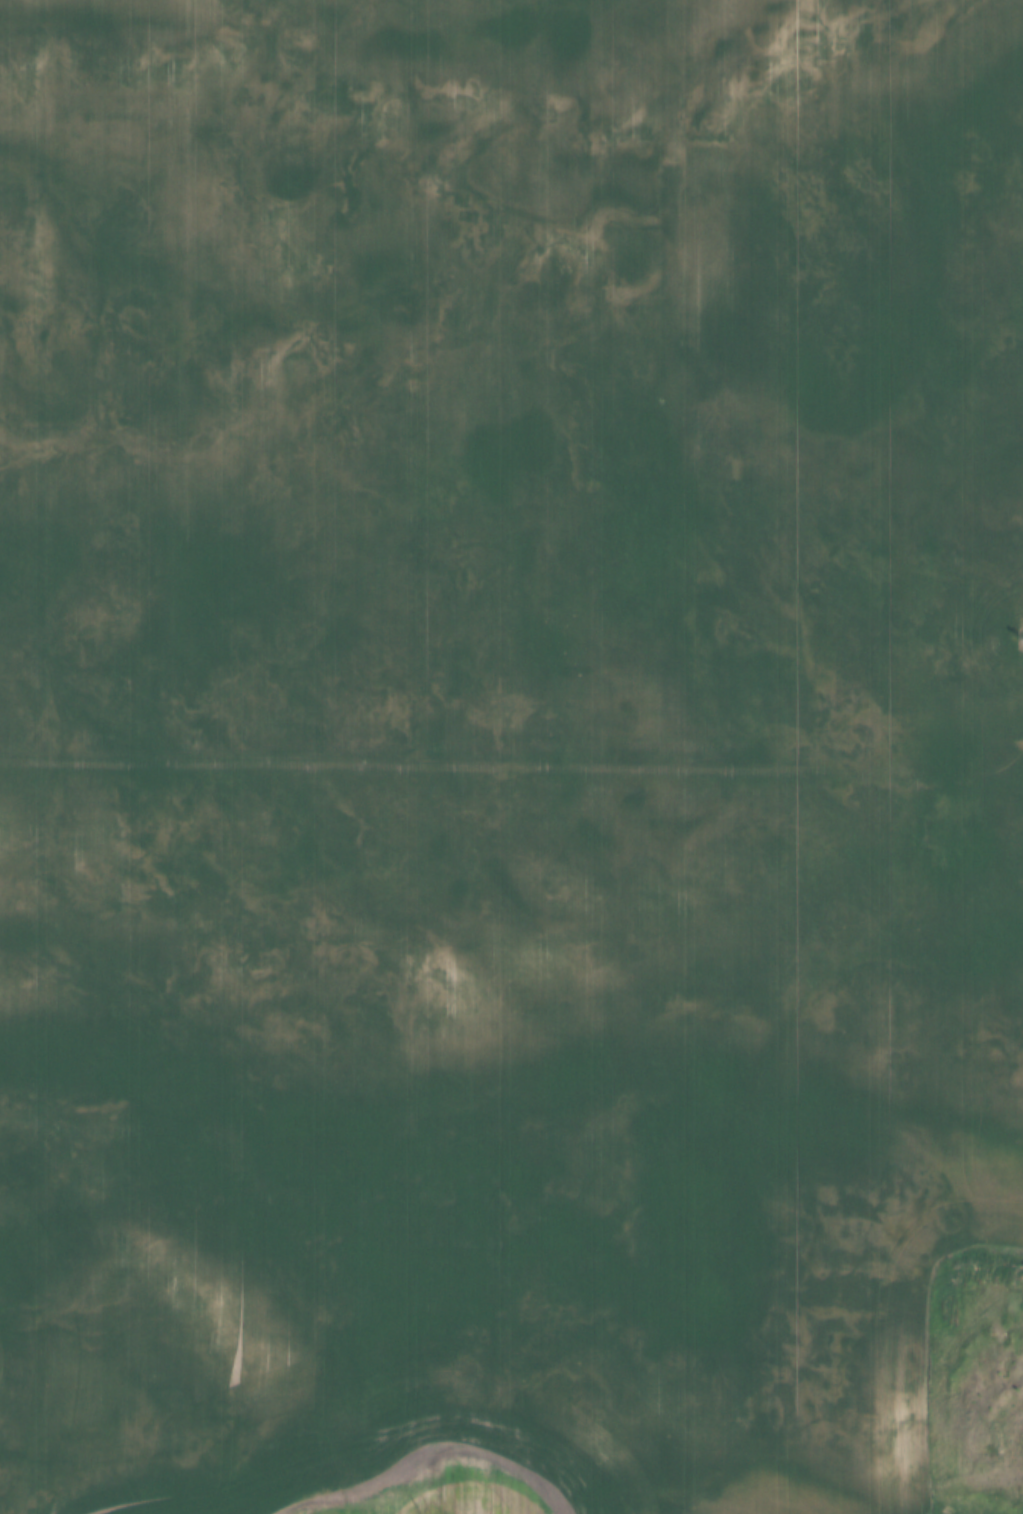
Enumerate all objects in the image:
quarry: (975, 1381)

